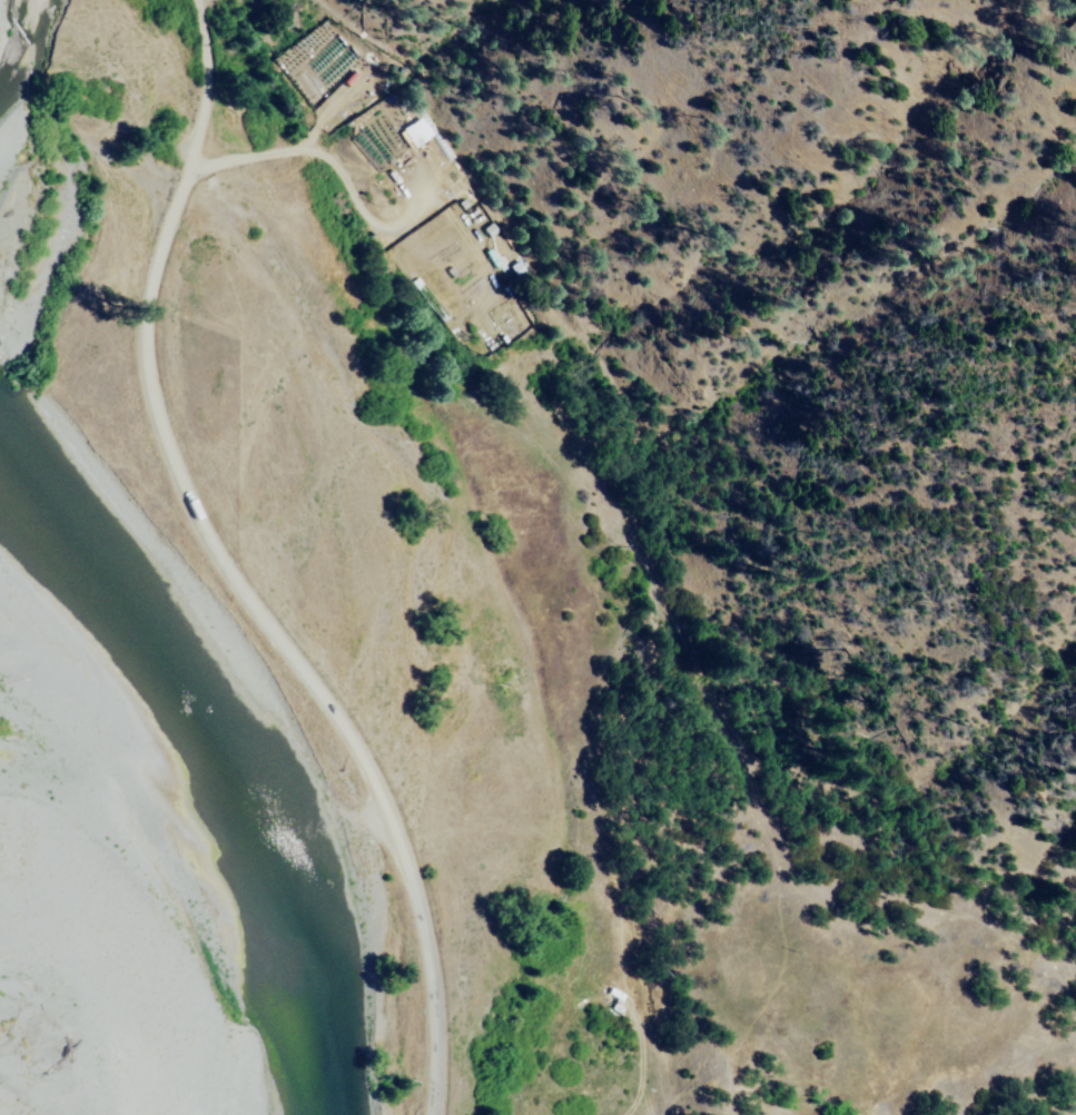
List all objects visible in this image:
road: (391, 227)
road: (244, 566)

